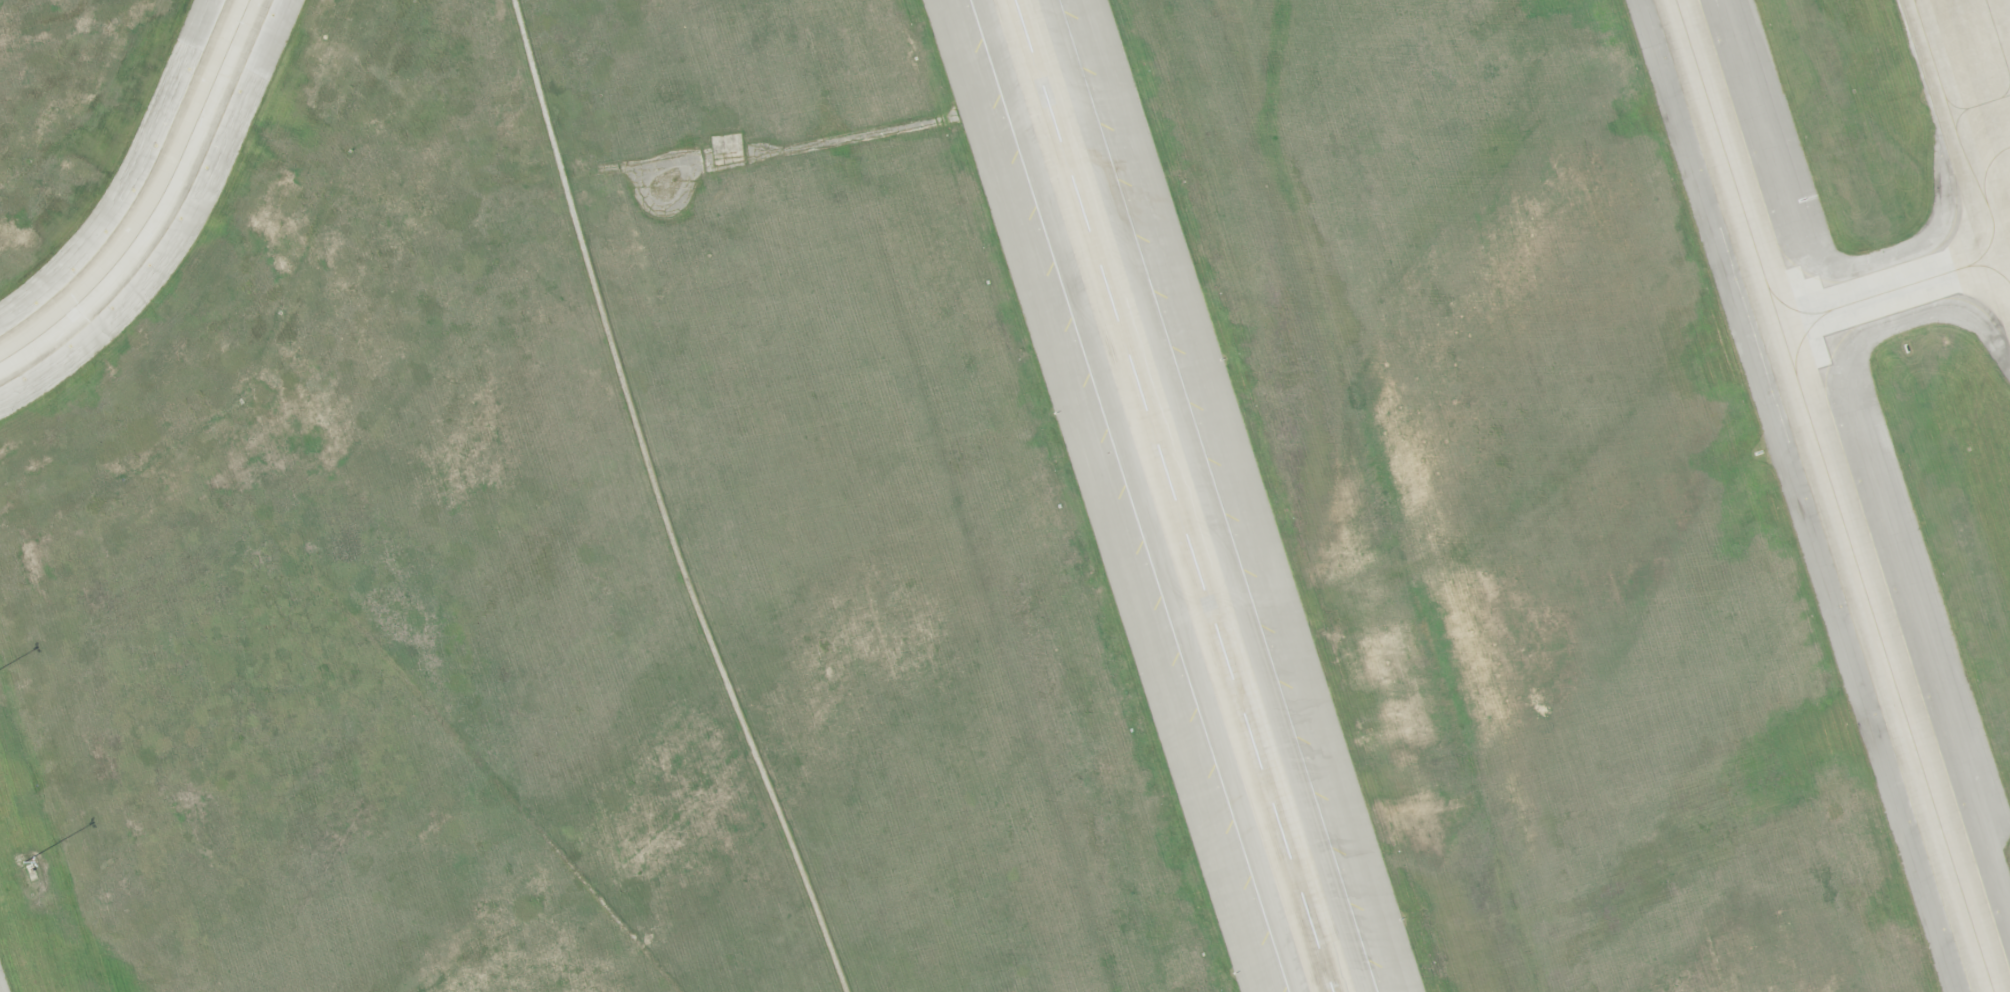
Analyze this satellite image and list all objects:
airport apron: (1969, 125)
airport taxiway: (155, 203)
airport taxiway: (1898, 289)
airport taxiway: (1822, 314)
airport: (1005, 496)
airport runway: (1172, 496)
airport taxiway: (1833, 496)
airport apron: (3, 981)

